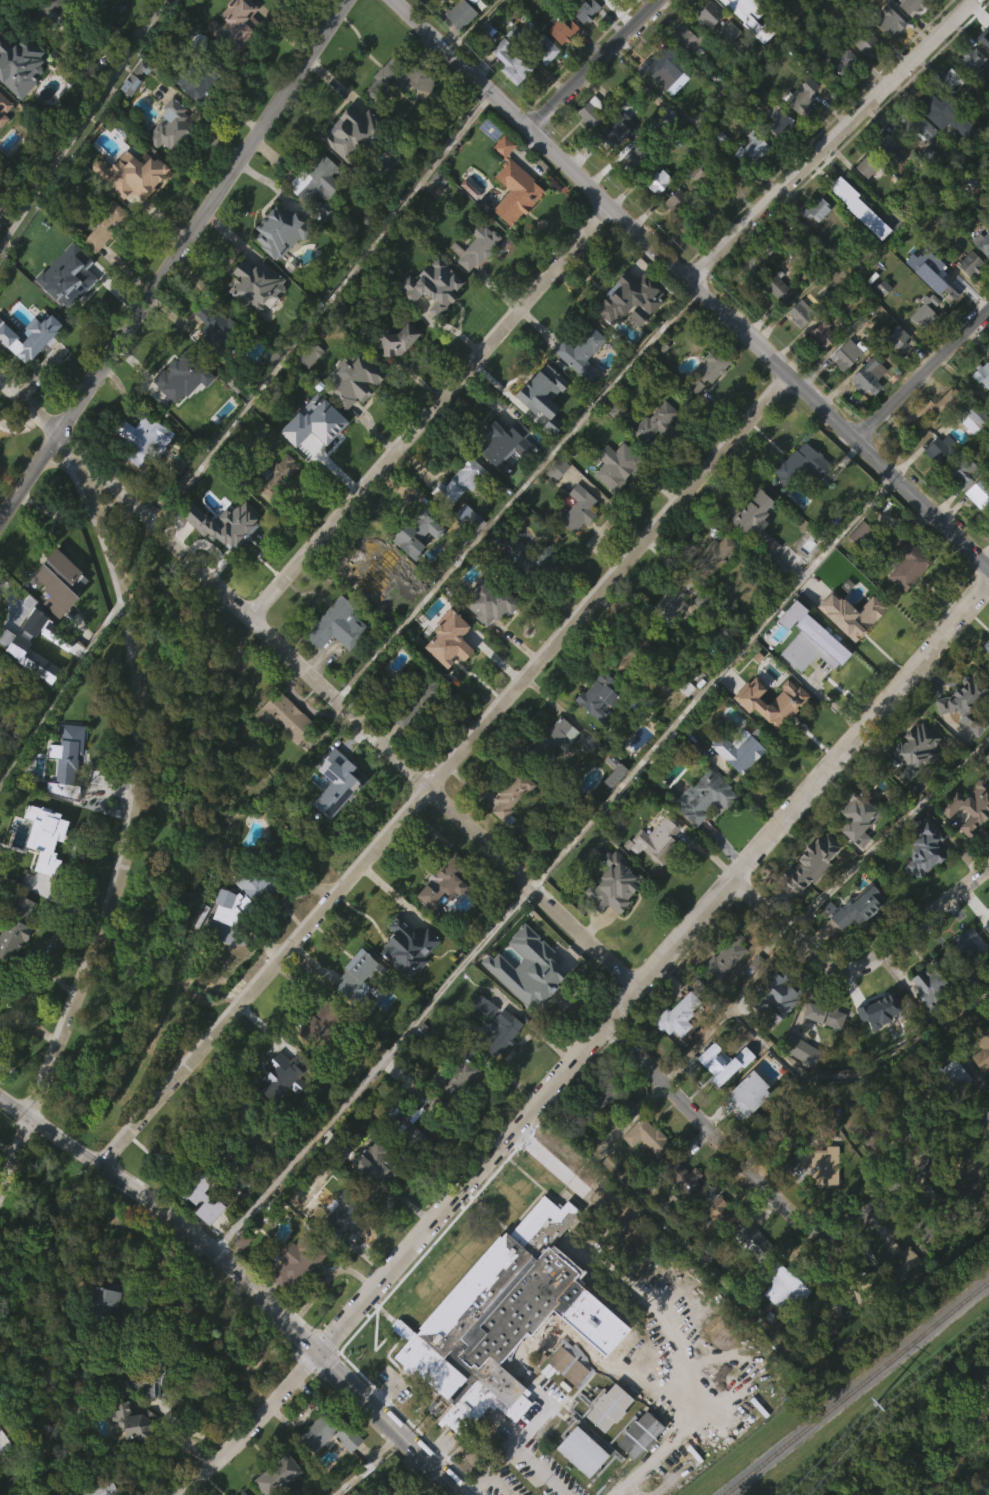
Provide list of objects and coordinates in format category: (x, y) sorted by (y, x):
building: (436, 0)
building: (443, 0)
building: (623, 2)
building: (865, 2)
building: (747, 3)
building: (75, 5)
building: (271, 5)
building: (911, 5)
building: (930, 8)
building: (582, 9)
building: (46, 12)
building: (707, 12)
building: (430, 14)
building: (457, 14)
building: (889, 21)
building: (236, 25)
road: (470, 25)
building: (564, 30)
building: (909, 31)
building: (987, 33)
building: (740, 38)
building: (582, 39)
building: (686, 40)
building: (862, 40)
building: (706, 43)
building: (986, 44)
building: (459, 45)
building: (545, 48)
building: (886, 52)
building: (234, 53)
building: (971, 60)
building: (560, 61)
building: (841, 61)
building: (510, 62)
building: (726, 62)
building: (20, 63)
building: (660, 63)
road: (593, 65)
building: (686, 70)
building: (984, 71)
building: (862, 72)
building: (198, 77)
building: (397, 77)
building: (542, 79)
building: (950, 79)
building: (969, 90)
building: (840, 91)
building: (508, 92)
building: (801, 96)
building: (662, 98)
building: (931, 101)
building: (4, 107)
building: (947, 109)
building: (395, 110)
building: (590, 112)
building: (127, 114)
building: (195, 115)
road: (84, 122)
building: (780, 123)
building: (801, 125)
building: (916, 125)
building: (170, 127)
building: (615, 128)
building: (354, 131)
building: (3, 138)
road: (830, 141)
building: (588, 142)
building: (885, 145)
building: (754, 148)
building: (777, 154)
building: (914, 154)
building: (167, 156)
building: (615, 159)
building: (347, 164)
building: (867, 165)
building: (751, 176)
building: (888, 177)
building: (656, 180)
building: (314, 181)
building: (512, 185)
building: (987, 185)
building: (634, 186)
building: (864, 196)
building: (988, 200)
building: (677, 201)
building: (129, 205)
building: (816, 209)
building: (434, 211)
building: (966, 211)
building: (296, 212)
building: (655, 212)
building: (511, 215)
building: (702, 224)
building: (104, 226)
building: (674, 230)
building: (278, 231)
building: (856, 238)
building: (815, 239)
building: (982, 242)
building: (325, 243)
building: (476, 244)
building: (702, 249)
building: (753, 255)
building: (102, 261)
building: (277, 261)
road: (174, 263)
building: (969, 263)
building: (781, 265)
building: (982, 271)
building: (474, 275)
building: (765, 275)
building: (72, 279)
building: (255, 284)
building: (430, 285)
road: (690, 285)
building: (774, 287)
building: (966, 293)
building: (631, 296)
building: (925, 312)
building: (800, 313)
building: (253, 314)
building: (429, 316)
building: (772, 317)
building: (879, 317)
building: (626, 326)
building: (214, 331)
building: (821, 334)
building: (392, 340)
building: (901, 340)
building: (921, 342)
building: (797, 343)
building: (579, 351)
building: (308, 354)
building: (845, 354)
building: (819, 364)
building: (895, 366)
building: (29, 368)
building: (710, 369)
building: (395, 370)
road: (920, 372)
building: (982, 374)
building: (866, 377)
building: (352, 379)
building: (180, 380)
building: (578, 382)
building: (844, 384)
building: (304, 387)
building: (537, 390)
building: (704, 402)
building: (865, 404)
building: (981, 405)
building: (182, 408)
building: (351, 409)
road: (428, 412)
building: (916, 414)
building: (971, 416)
building: (540, 421)
building: (655, 423)
building: (502, 437)
building: (930, 437)
building: (139, 438)
building: (968, 448)
building: (938, 449)
building: (651, 454)
building: (316, 457)
building: (799, 462)
building: (616, 466)
building: (556, 468)
building: (141, 469)
building: (500, 472)
building: (962, 472)
building: (272, 477)
building: (938, 478)
building: (459, 479)
building: (799, 493)
building: (979, 493)
road: (514, 494)
building: (613, 496)
building: (554, 499)
building: (961, 502)
building: (578, 507)
building: (456, 512)
building: (468, 518)
building: (236, 522)
building: (976, 523)
building: (415, 531)
building: (859, 532)
building: (576, 539)
building: (460, 542)
building: (988, 544)
building: (754, 551)
building: (220, 554)
building: (712, 557)
building: (531, 558)
building: (907, 560)
building: (416, 561)
building: (857, 563)
building: (380, 573)
building: (51, 575)
building: (713, 584)
building: (526, 588)
building: (904, 592)
building: (490, 599)
building: (704, 602)
building: (669, 604)
building: (378, 605)
building: (869, 609)
building: (57, 612)
building: (336, 624)
building: (699, 630)
building: (481, 631)
building: (669, 632)
building: (848, 644)
building: (444, 647)
building: (636, 653)
building: (334, 656)
building: (40, 658)
building: (447, 670)
building: (809, 677)
road: (711, 679)
road: (318, 683)
building: (28, 689)
building: (624, 691)
building: (600, 693)
building: (2, 697)
building: (413, 699)
building: (774, 700)
building: (966, 701)
building: (283, 716)
road: (861, 727)
building: (596, 728)
building: (784, 732)
building: (962, 734)
building: (578, 739)
building: (281, 747)
building: (917, 749)
building: (736, 750)
building: (67, 754)
building: (555, 763)
road: (443, 770)
building: (612, 770)
road: (134, 780)
building: (913, 780)
building: (735, 781)
building: (336, 787)
building: (64, 791)
building: (513, 793)
building: (703, 796)
building: (611, 800)
building: (970, 805)
building: (859, 820)
building: (702, 826)
building: (504, 830)
road: (888, 832)
building: (967, 837)
building: (658, 838)
building: (41, 841)
park: (163, 848)
building: (855, 848)
building: (927, 850)
building: (810, 862)
building: (43, 867)
building: (653, 870)
building: (252, 877)
building: (922, 879)
building: (615, 882)
building: (444, 885)
building: (810, 893)
building: (857, 908)
building: (29, 913)
building: (439, 913)
building: (612, 913)
building: (248, 916)
road: (924, 919)
building: (987, 922)
building: (13, 929)
road: (793, 932)
building: (224, 937)
building: (855, 938)
building: (987, 943)
building: (963, 946)
building: (13, 958)
building: (985, 958)
building: (727, 960)
building: (526, 968)
building: (968, 973)
building: (360, 974)
building: (404, 977)
building: (724, 985)
building: (934, 985)
building: (776, 993)
building: (525, 997)
building: (353, 1006)
building: (879, 1010)
building: (826, 1014)
building: (676, 1015)
building: (928, 1015)
building: (326, 1023)
building: (774, 1025)
building: (493, 1031)
building: (820, 1045)
building: (675, 1047)
building: (801, 1050)
building: (314, 1051)
building: (983, 1051)
building: (500, 1065)
building: (273, 1067)
road: (373, 1067)
building: (714, 1069)
building: (980, 1077)
building: (454, 1078)
building: (945, 1079)
building: (798, 1081)
building: (719, 1093)
building: (596, 1098)
building: (902, 1098)
building: (751, 1101)
building: (275, 1106)
building: (411, 1107)
building: (945, 1109)
building: (444, 1111)
road: (525, 1112)
building: (243, 1119)
building: (746, 1124)
building: (595, 1128)
building: (869, 1131)
road: (713, 1132)
building: (778, 1132)
building: (645, 1137)
road: (16, 1152)
building: (378, 1163)
building: (988, 1163)
building: (821, 1164)
building: (644, 1167)
building: (785, 1170)
road: (911, 1171)
building: (195, 1172)
building: (681, 1175)
building: (370, 1192)
building: (815, 1195)
building: (973, 1195)
building: (679, 1205)
building: (716, 1209)
road: (168, 1212)
building: (340, 1214)
building: (221, 1220)
building: (936, 1222)
building: (201, 1226)
building: (711, 1237)
building: (754, 1241)
building: (338, 1248)
building: (922, 1259)
building: (900, 1261)
building: (296, 1262)
building: (749, 1270)
building: (783, 1287)
building: (900, 1290)
building: (288, 1296)
building: (841, 1299)
building: (104, 1305)
building: (454, 1317)
building: (782, 1317)
building: (138, 1323)
building: (100, 1331)
building: (577, 1340)
building: (531, 1355)
building: (161, 1369)
building: (560, 1386)
railway: (854, 1386)
power tower: (872, 1406)
building: (147, 1414)
building: (135, 1421)
road: (391, 1422)
road: (249, 1425)
building: (330, 1432)
building: (606, 1437)
building: (128, 1451)
road: (518, 1458)
building: (324, 1463)
building: (637, 1465)
building: (275, 1475)
building: (579, 1479)
building: (396, 1486)
building: (102, 1488)
building: (283, 1490)
building: (244, 1493)
building: (237, 1494)

